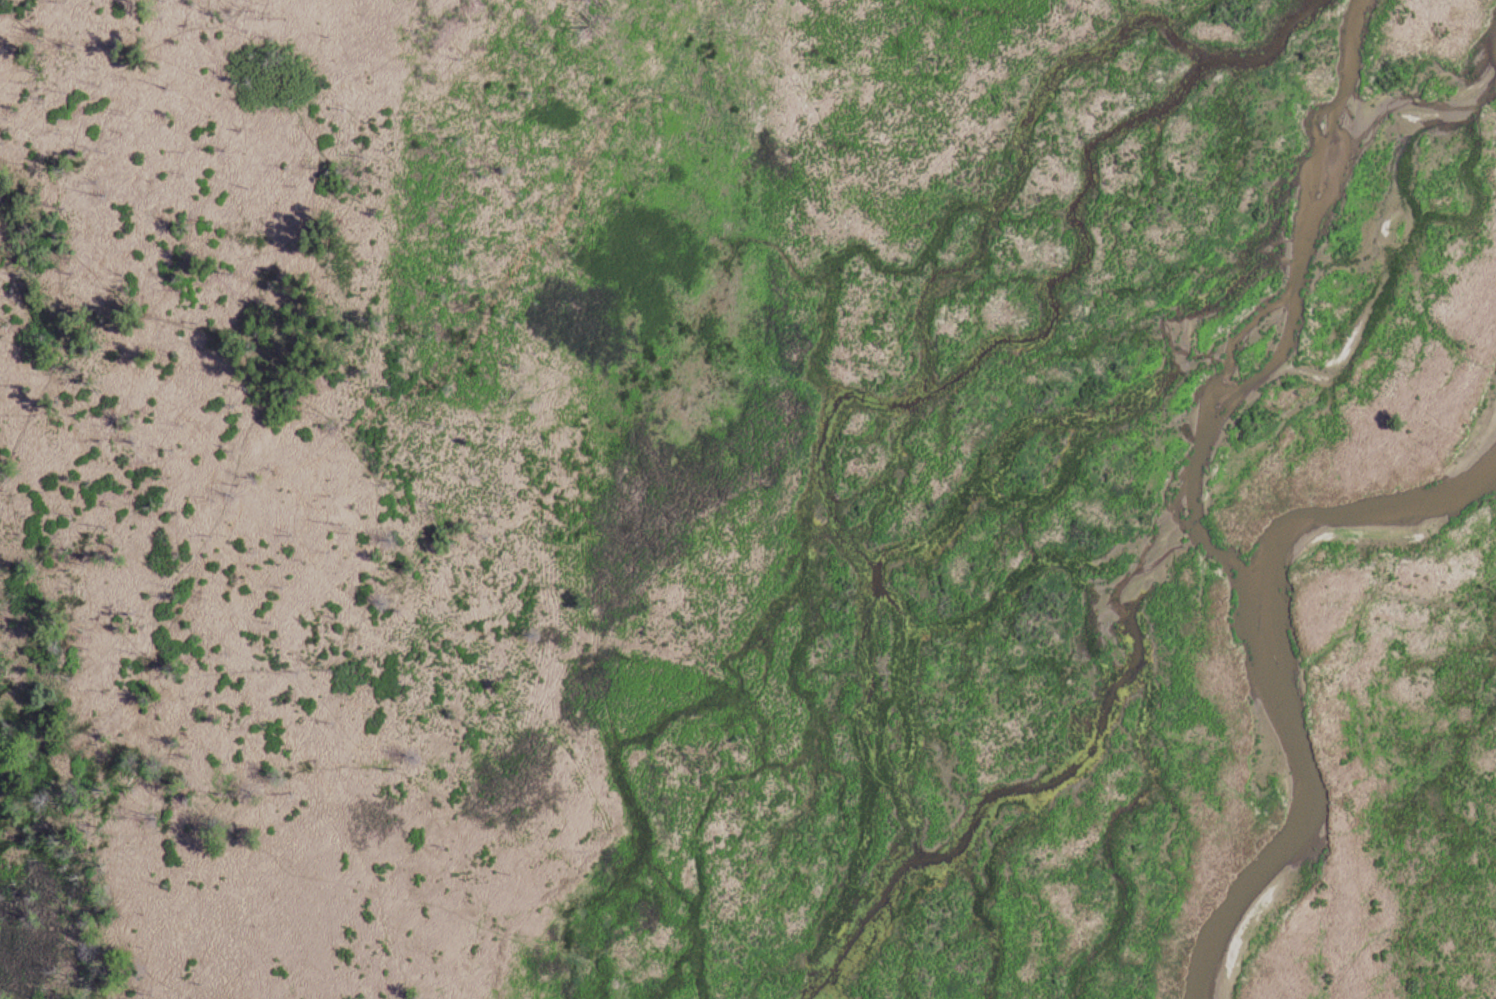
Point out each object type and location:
river: (1273, 660)

